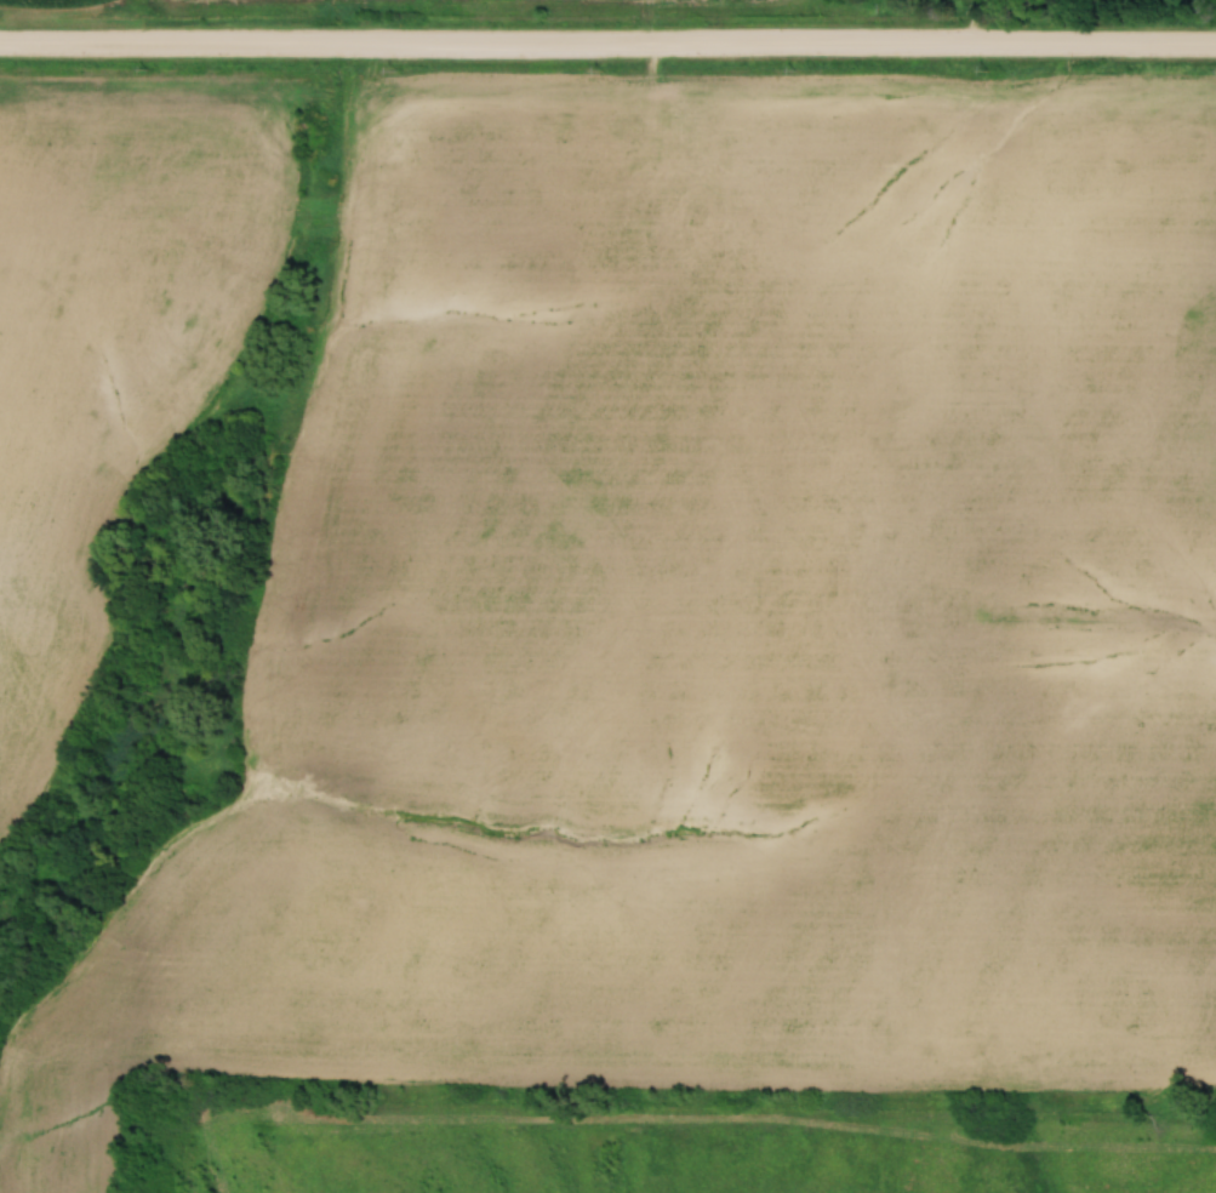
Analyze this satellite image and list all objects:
road: (138, 22)
road: (607, 44)

